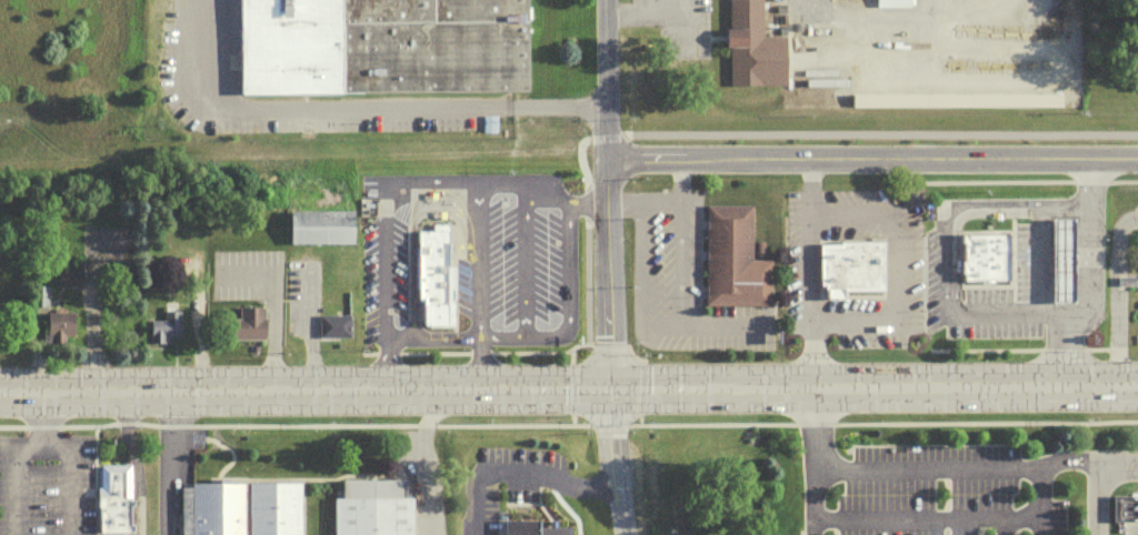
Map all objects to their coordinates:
road: (687, 4)
building: (897, 7)
road: (639, 10)
road: (645, 20)
building: (381, 46)
building: (750, 47)
road: (349, 103)
road: (868, 130)
road: (868, 158)
road: (1024, 180)
road: (538, 186)
road: (451, 195)
road: (599, 196)
road: (661, 201)
road: (437, 205)
building: (320, 225)
road: (952, 225)
road: (382, 242)
road: (477, 251)
road: (939, 252)
building: (982, 255)
road: (525, 256)
parking lot: (529, 258)
parking lot: (382, 259)
building: (731, 259)
road: (639, 262)
road: (681, 262)
road: (895, 263)
road: (566, 267)
building: (848, 267)
building: (1065, 267)
building: (78, 269)
road: (812, 275)
building: (61, 276)
building: (435, 276)
building: (1121, 280)
road: (1085, 285)
road: (1112, 292)
building: (29, 300)
road: (272, 312)
building: (56, 323)
building: (248, 323)
road: (705, 323)
building: (164, 324)
building: (332, 324)
road: (546, 333)
road: (429, 334)
road: (500, 334)
road: (1019, 349)
road: (291, 352)
road: (566, 353)
road: (475, 359)
road: (807, 394)
traffic signals: (602, 395)
road: (238, 398)
road: (633, 417)
road: (567, 418)
road: (39, 420)
road: (984, 421)
road: (809, 422)
road: (602, 423)
road: (707, 423)
road: (290, 424)
road: (941, 463)
road: (423, 464)
road: (607, 465)
road: (132, 466)
road: (166, 466)
road: (517, 470)
road: (12, 475)
road: (63, 476)
building: (114, 497)
road: (815, 498)
road: (1044, 498)
road: (1089, 498)
building: (239, 507)
building: (1124, 507)
building: (371, 508)
road: (1015, 511)
road: (912, 513)
building: (530, 528)

